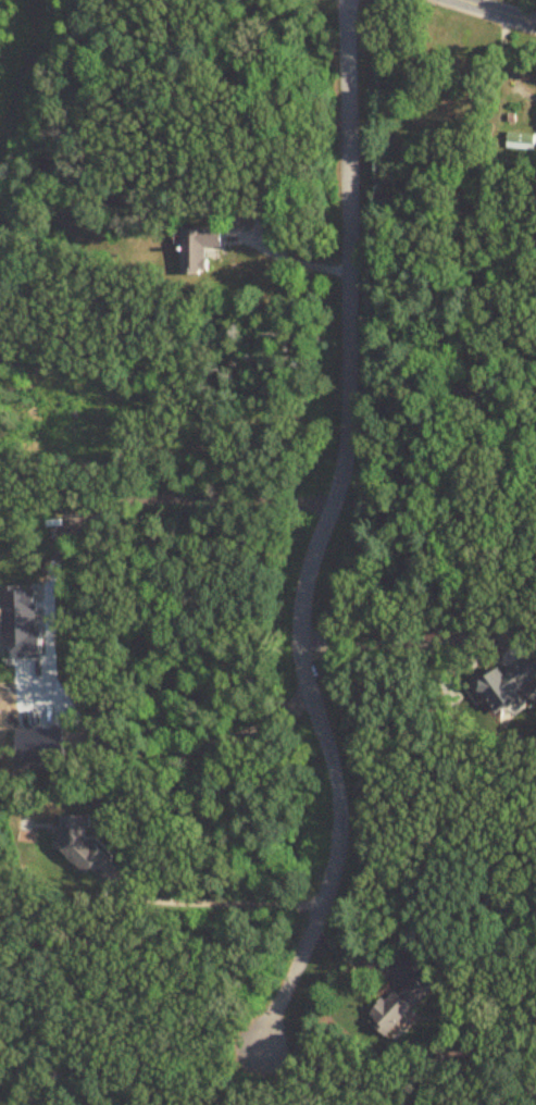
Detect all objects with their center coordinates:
road: (497, 11)
building: (520, 145)
building: (198, 249)
road: (295, 261)
road: (127, 499)
road: (319, 533)
road: (392, 632)
road: (171, 735)
building: (79, 845)
road: (217, 898)
building: (399, 1003)

